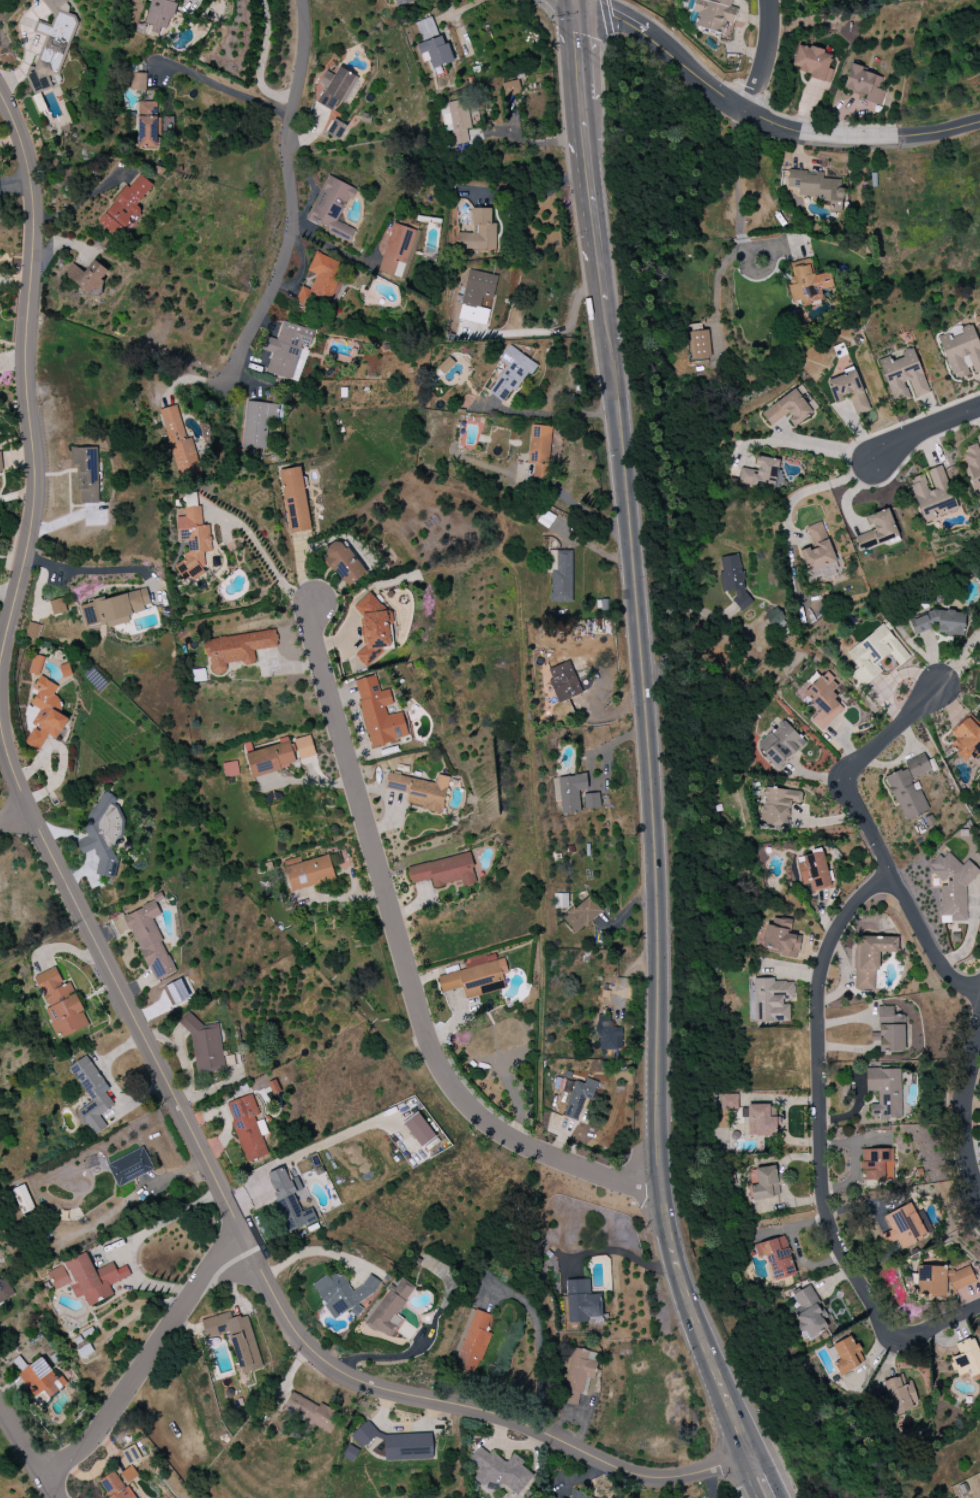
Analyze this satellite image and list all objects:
road: (191, 1)
road: (572, 1)
road: (575, 1)
building: (403, 2)
traffic signals: (576, 3)
building: (162, 12)
building: (713, 14)
building: (52, 44)
building: (432, 44)
road: (578, 51)
road: (763, 58)
road: (260, 61)
building: (813, 62)
building: (138, 81)
building: (864, 84)
building: (338, 88)
building: (510, 88)
road: (226, 91)
road: (724, 101)
building: (456, 120)
building: (147, 124)
building: (336, 129)
road: (932, 132)
road: (533, 142)
road: (587, 180)
road: (15, 185)
building: (817, 187)
road: (290, 190)
road: (525, 191)
building: (126, 208)
building: (332, 208)
road: (738, 209)
building: (479, 232)
road: (332, 247)
building: (397, 250)
building: (87, 276)
road: (600, 281)
building: (321, 283)
building: (808, 285)
building: (479, 293)
road: (547, 333)
building: (698, 345)
building: (287, 349)
building: (961, 352)
building: (446, 365)
building: (511, 374)
building: (904, 375)
building: (849, 392)
building: (789, 409)
road: (551, 414)
building: (257, 424)
road: (922, 428)
building: (179, 441)
road: (825, 445)
building: (539, 450)
building: (973, 464)
building: (86, 473)
building: (762, 474)
road: (543, 484)
road: (812, 491)
building: (190, 500)
building: (295, 500)
building: (878, 530)
building: (193, 543)
road: (263, 552)
building: (818, 553)
building: (343, 563)
road: (94, 571)
building: (560, 575)
building: (733, 579)
building: (57, 606)
building: (114, 608)
building: (373, 628)
building: (33, 630)
building: (236, 649)
building: (875, 654)
road: (956, 660)
building: (36, 665)
building: (564, 682)
building: (825, 700)
building: (45, 713)
building: (379, 713)
building: (966, 739)
building: (780, 743)
building: (304, 747)
building: (271, 758)
building: (230, 769)
building: (909, 788)
building: (420, 791)
building: (569, 792)
building: (591, 800)
building: (778, 806)
road: (19, 823)
building: (102, 834)
road: (874, 838)
building: (444, 871)
building: (813, 871)
building: (309, 873)
road: (657, 885)
building: (953, 885)
building: (582, 914)
building: (778, 937)
building: (150, 941)
building: (871, 958)
road: (405, 961)
road: (107, 963)
building: (476, 976)
building: (176, 992)
building: (772, 1000)
building: (61, 1004)
building: (890, 1031)
building: (608, 1033)
building: (207, 1048)
building: (884, 1092)
building: (92, 1095)
building: (578, 1096)
building: (728, 1101)
road: (964, 1113)
building: (761, 1121)
building: (247, 1128)
building: (419, 1130)
road: (823, 1143)
building: (877, 1164)
building: (130, 1167)
building: (765, 1183)
building: (289, 1198)
building: (903, 1226)
road: (132, 1243)
road: (313, 1251)
road: (620, 1252)
building: (776, 1257)
building: (58, 1278)
building: (92, 1278)
building: (942, 1280)
building: (5, 1290)
building: (343, 1294)
building: (581, 1301)
building: (390, 1308)
building: (809, 1313)
building: (236, 1339)
building: (473, 1343)
road: (537, 1346)
building: (846, 1356)
road: (150, 1357)
building: (967, 1359)
building: (578, 1374)
building: (40, 1381)
building: (900, 1395)
building: (311, 1412)
building: (398, 1444)
road: (28, 1453)
building: (350, 1453)
park: (18, 1467)
road: (786, 1467)
building: (500, 1471)
road: (770, 1474)
road: (750, 1478)
road: (730, 1480)
building: (115, 1486)
building: (578, 1495)

